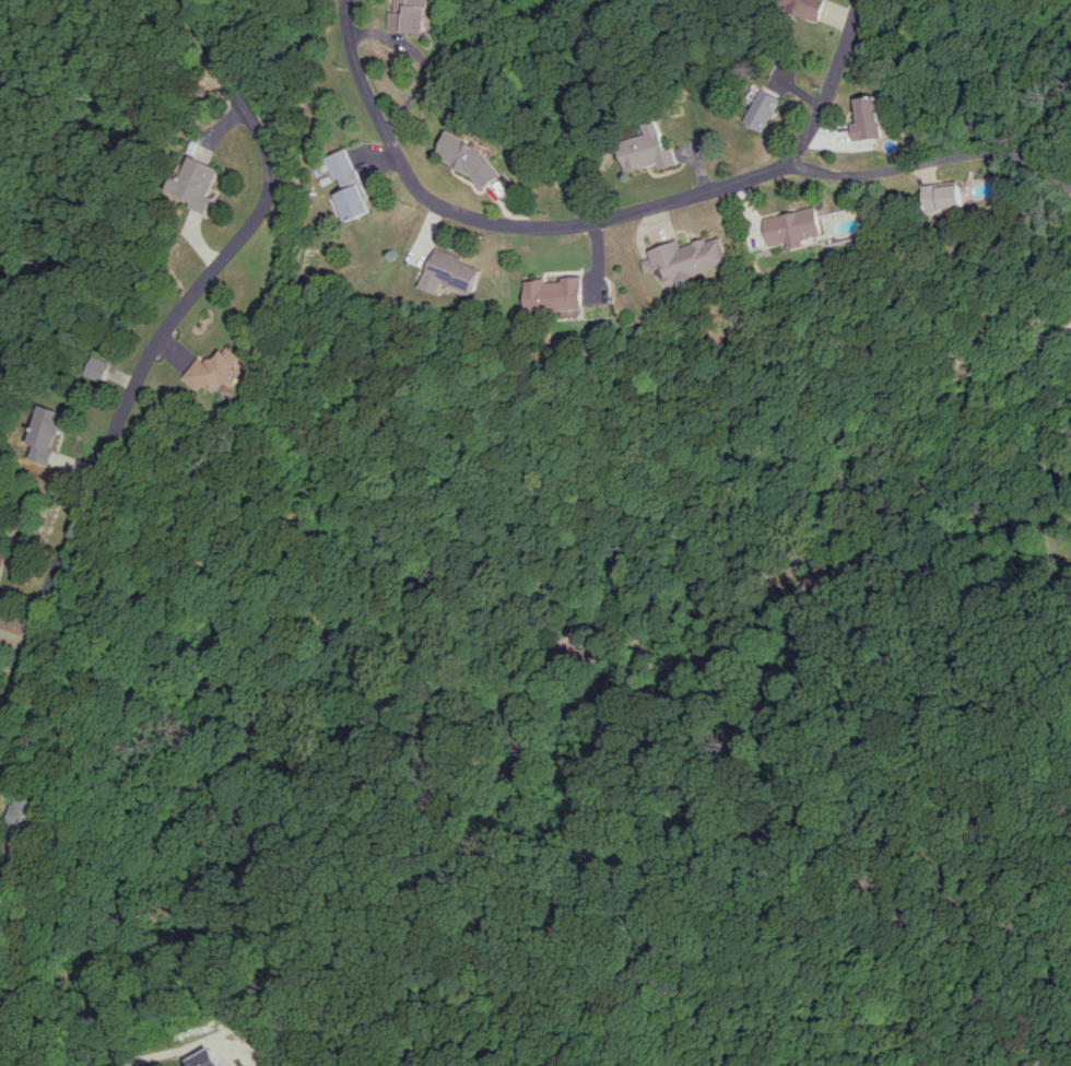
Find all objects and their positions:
building: (804, 8)
building: (411, 15)
building: (761, 107)
building: (870, 118)
building: (647, 149)
road: (933, 157)
building: (471, 159)
building: (192, 184)
building: (346, 185)
road: (1070, 186)
building: (945, 197)
road: (590, 221)
building: (795, 226)
building: (686, 259)
building: (448, 272)
building: (553, 294)
road: (148, 352)
building: (95, 368)
building: (216, 372)
road: (919, 412)
building: (42, 433)
building: (0, 559)
building: (25, 825)
building: (203, 1058)
road: (2, 1064)

